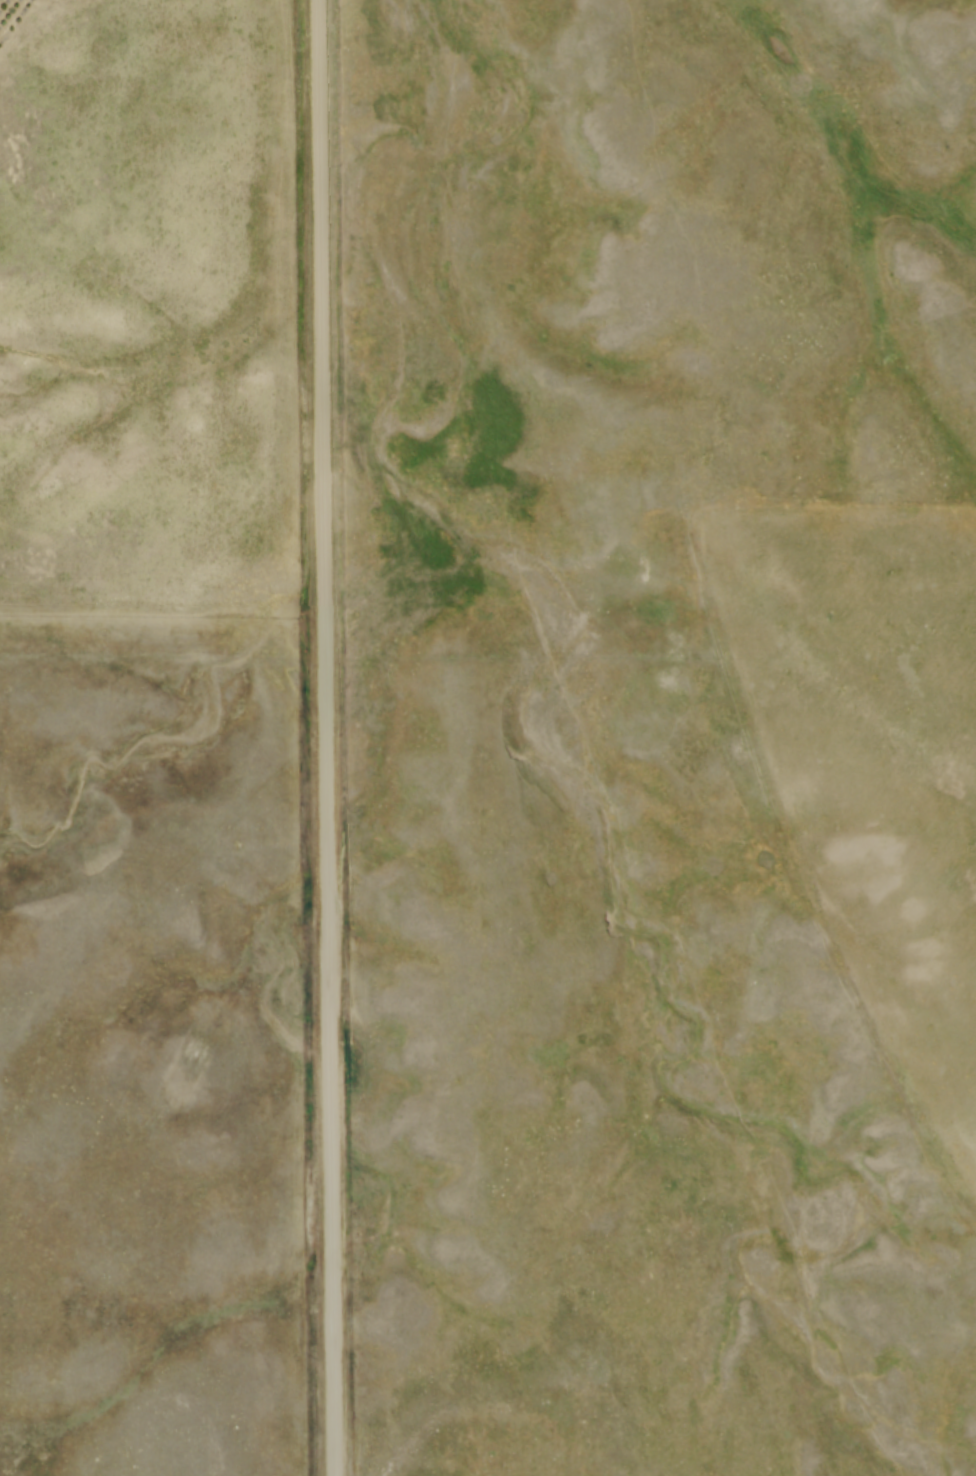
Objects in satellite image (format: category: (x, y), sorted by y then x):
road: (327, 738)
crop: (873, 742)

